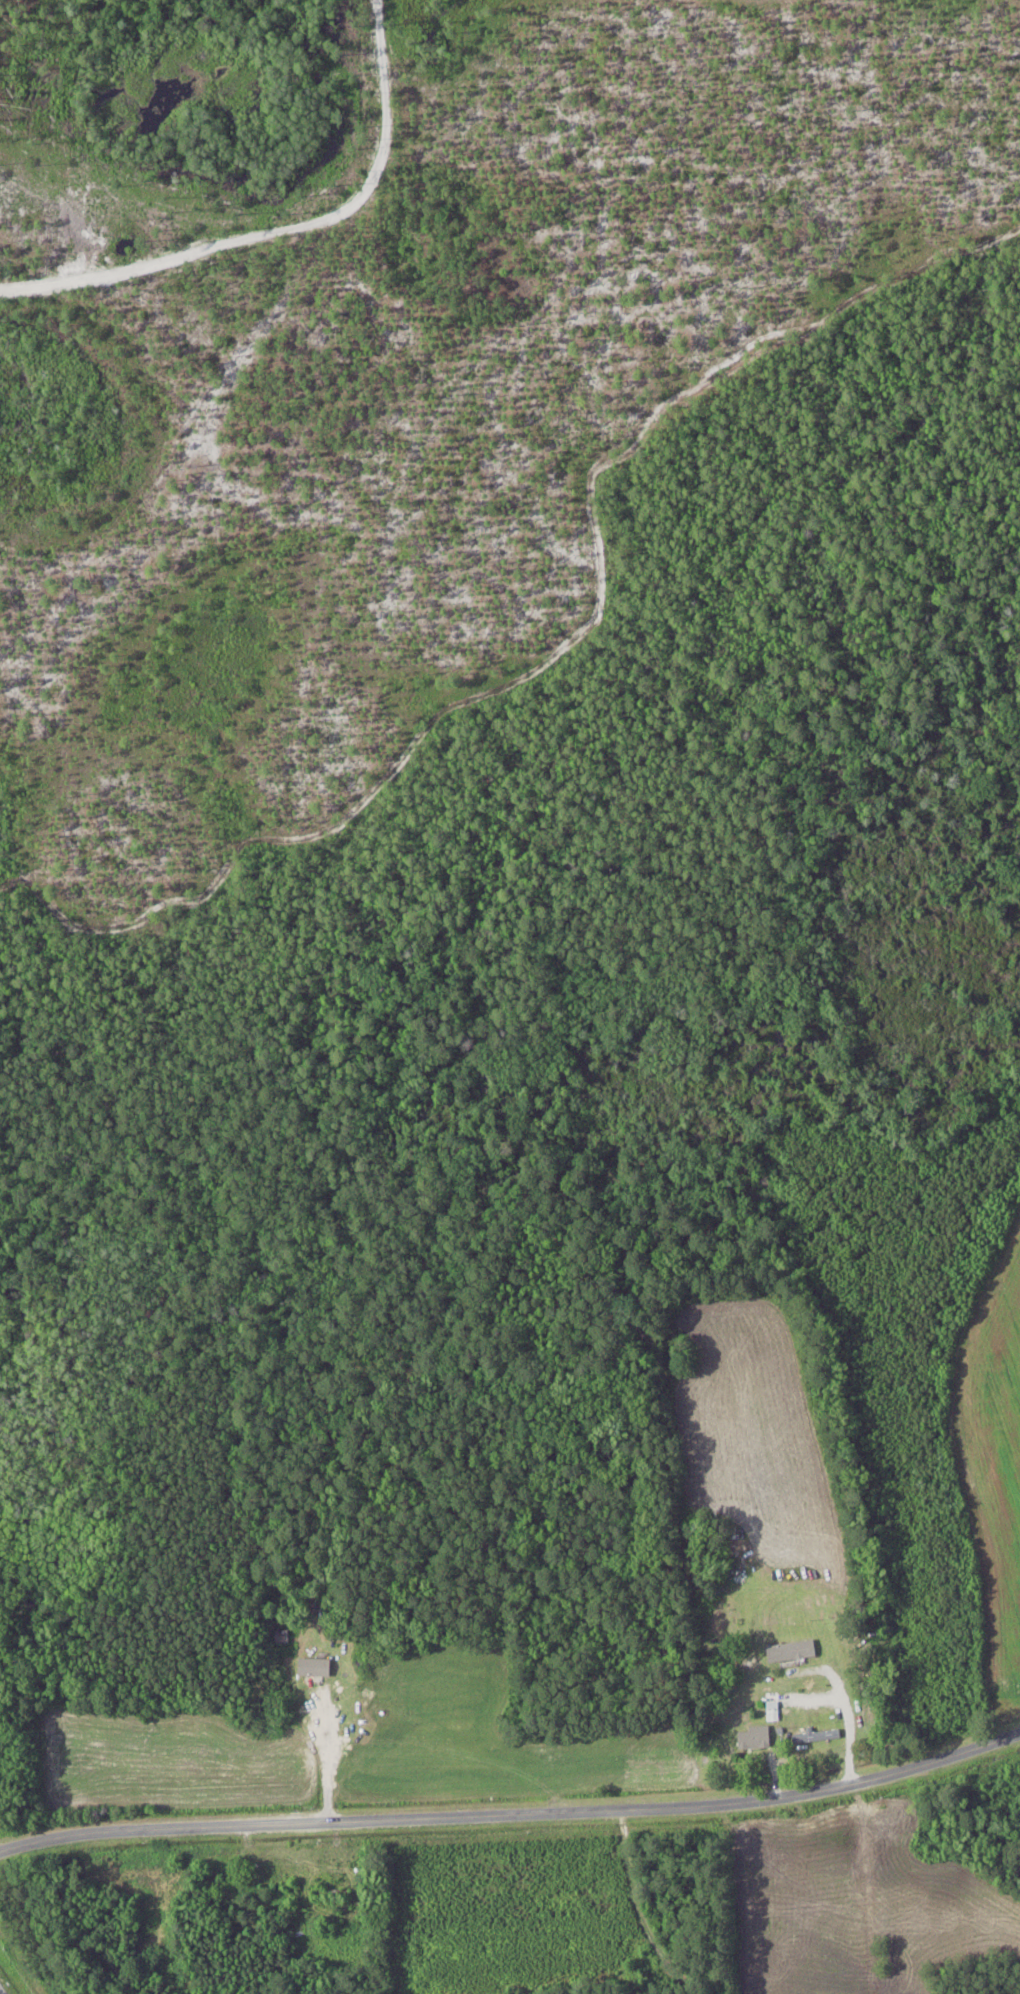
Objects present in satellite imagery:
building: (283, 1637)
building: (791, 1651)
building: (316, 1667)
road: (851, 1725)
building: (817, 1736)
building: (756, 1738)
road: (325, 1756)
road: (775, 1773)
road: (513, 1812)
building: (330, 1892)
road: (244, 1908)
road: (672, 1928)

